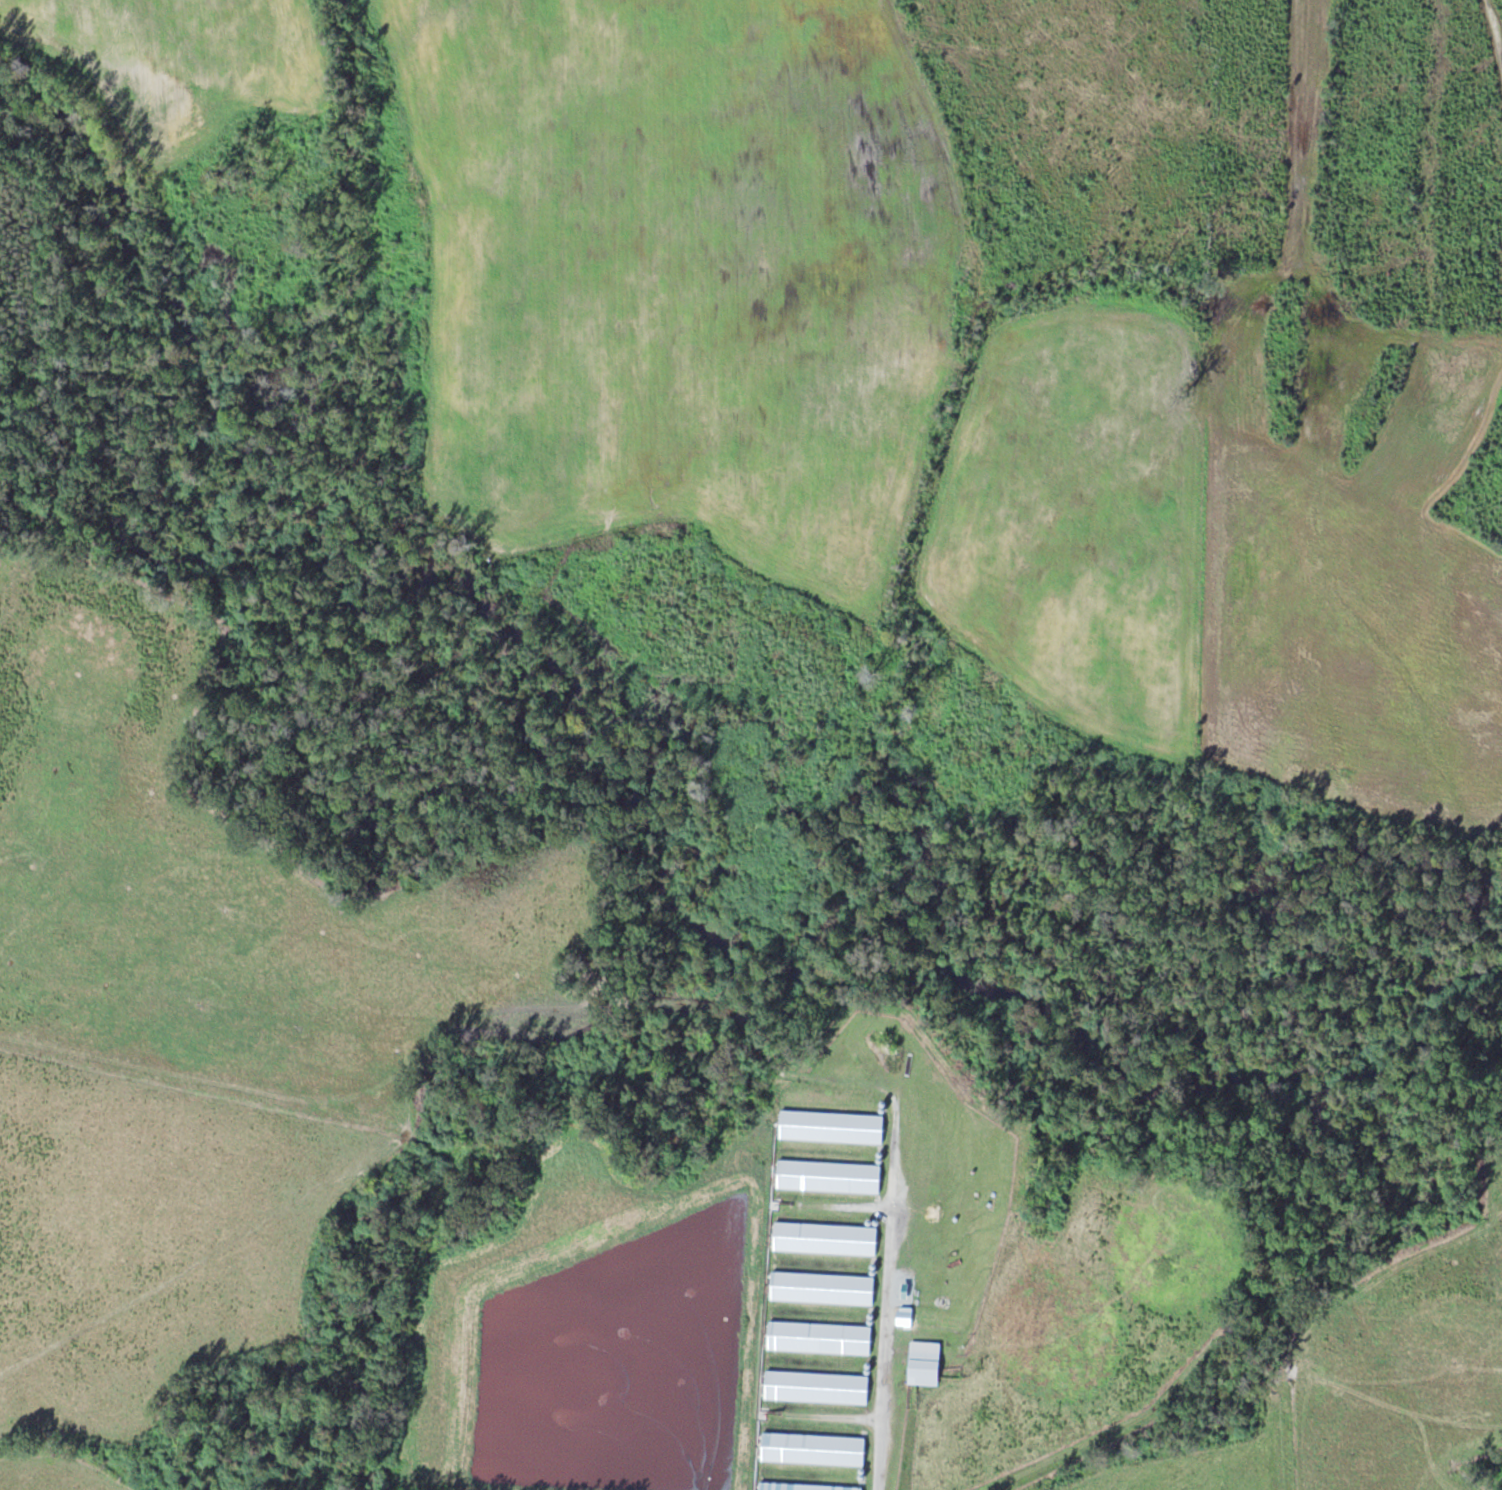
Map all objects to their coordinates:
building: (833, 1126)
building: (830, 1176)
building: (826, 1238)
building: (823, 1288)
building: (905, 1316)
building: (820, 1337)
building: (925, 1363)
building: (817, 1386)
building: (814, 1448)
building: (807, 1486)

